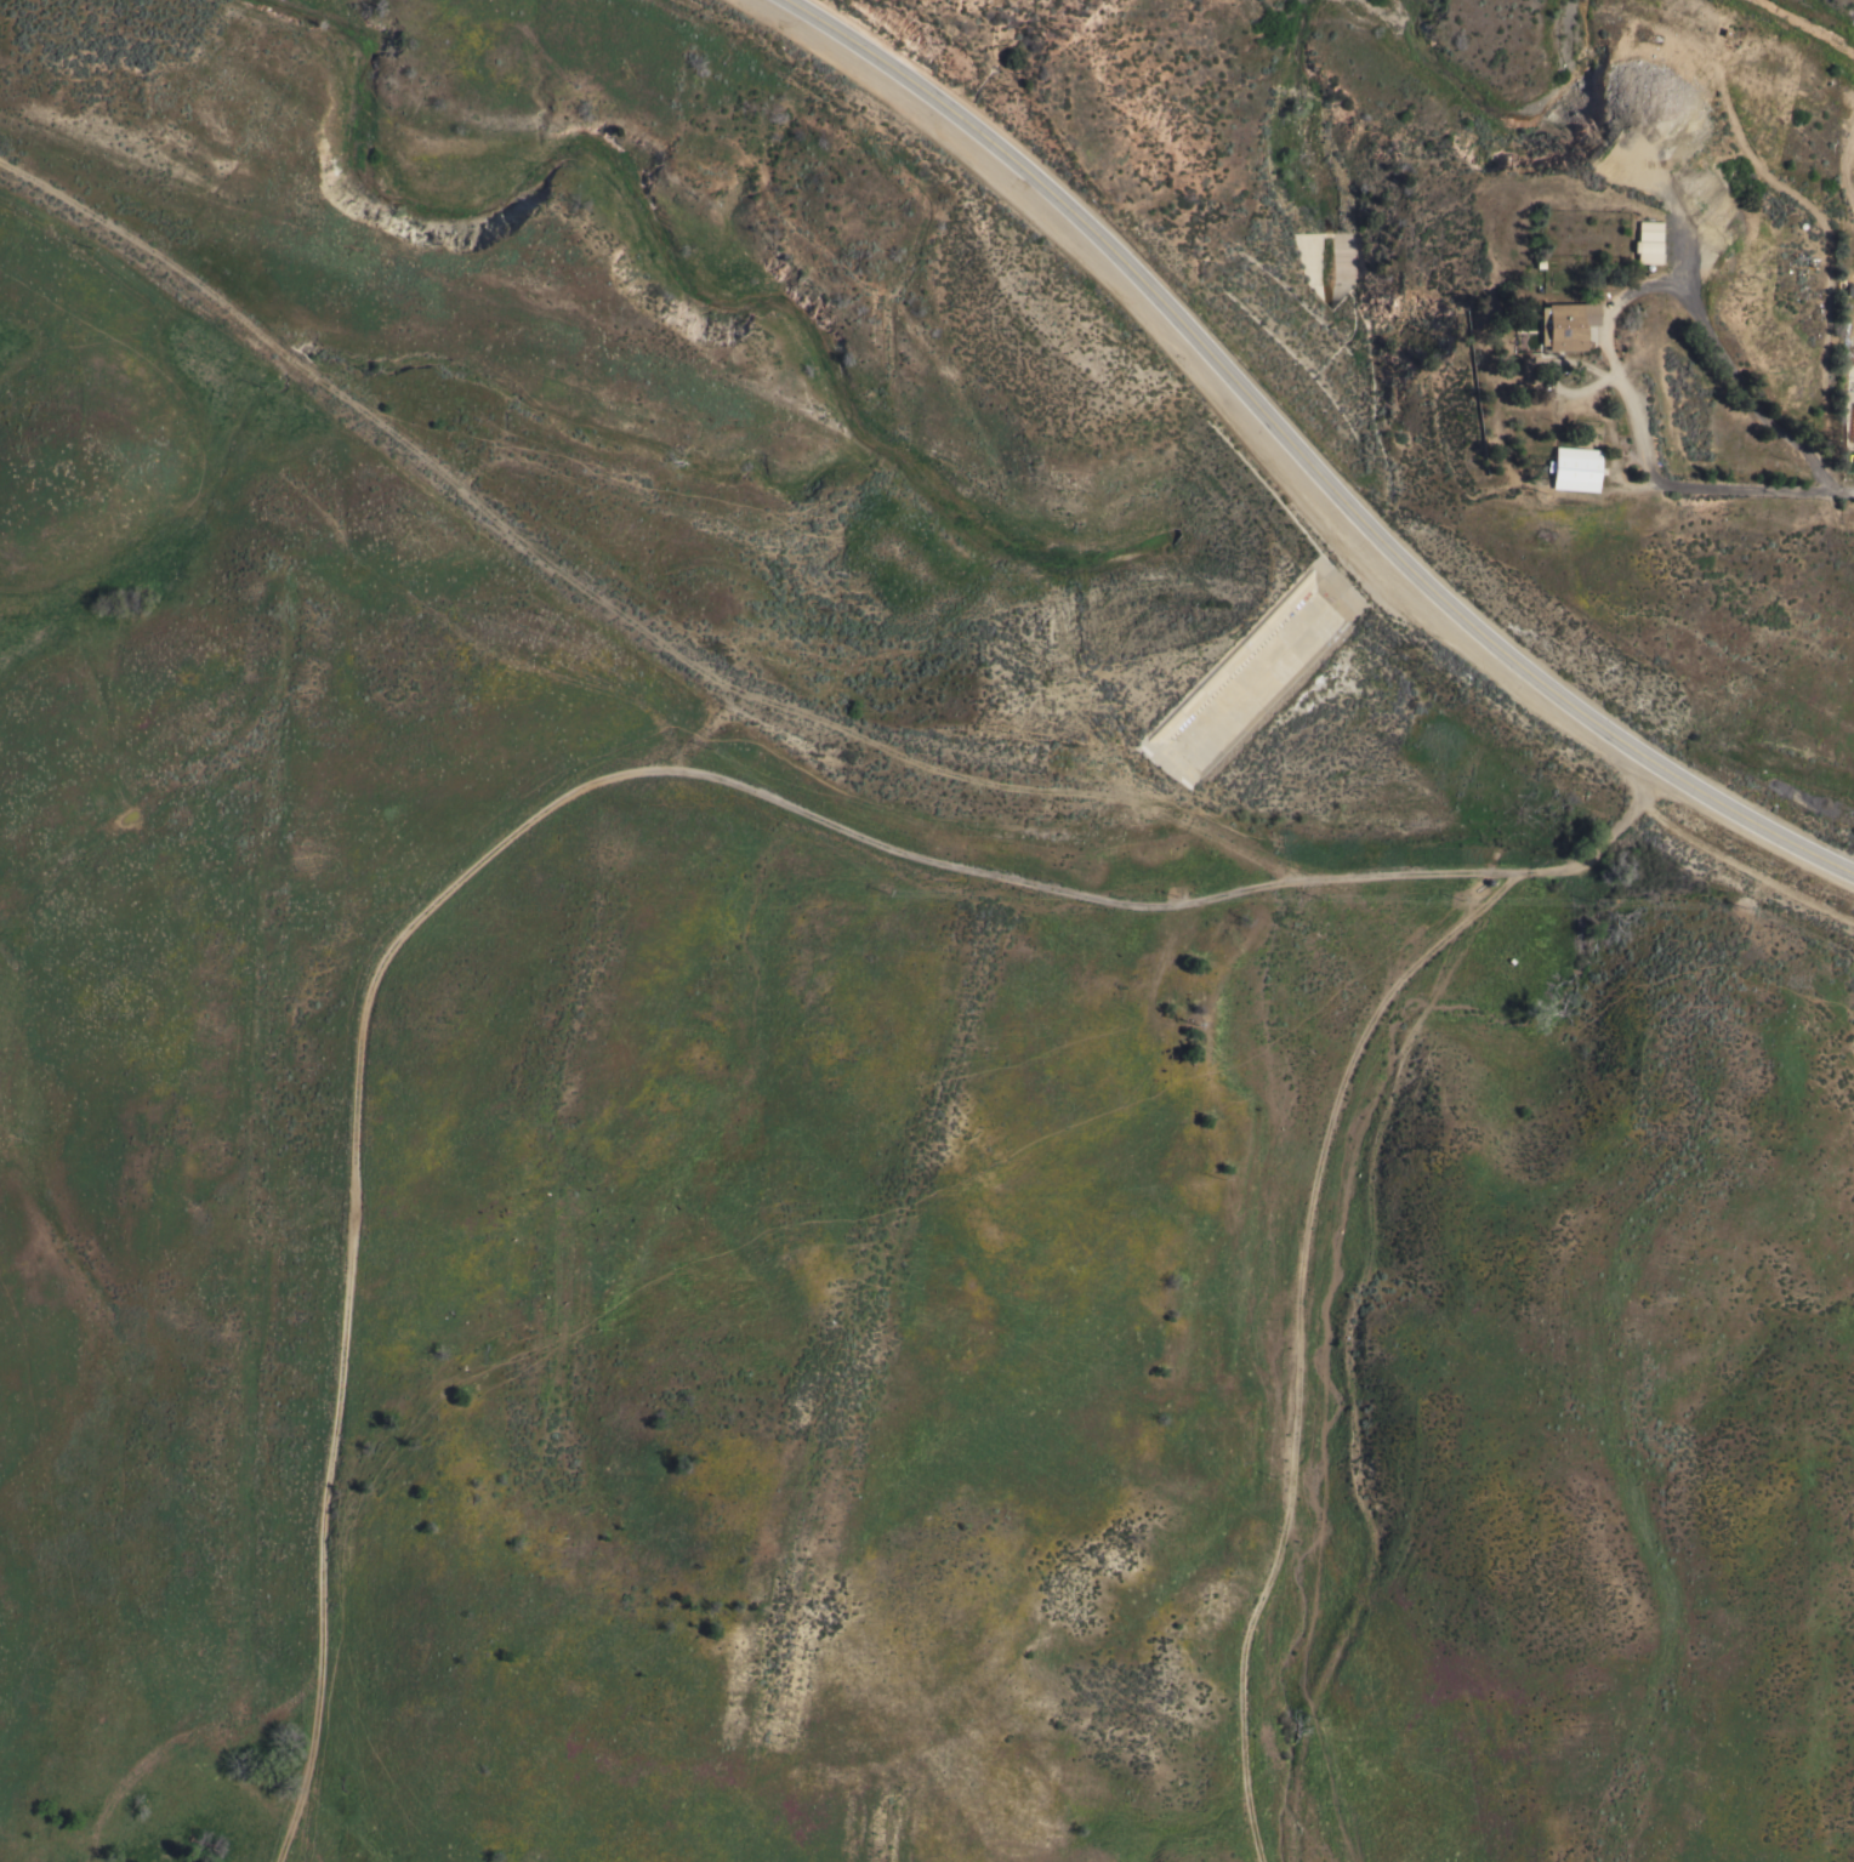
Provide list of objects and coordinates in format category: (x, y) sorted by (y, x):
building: (1648, 241)
road: (1605, 321)
building: (1565, 324)
road: (1299, 456)
building: (1575, 468)
road: (1844, 495)
road: (1309, 1239)

